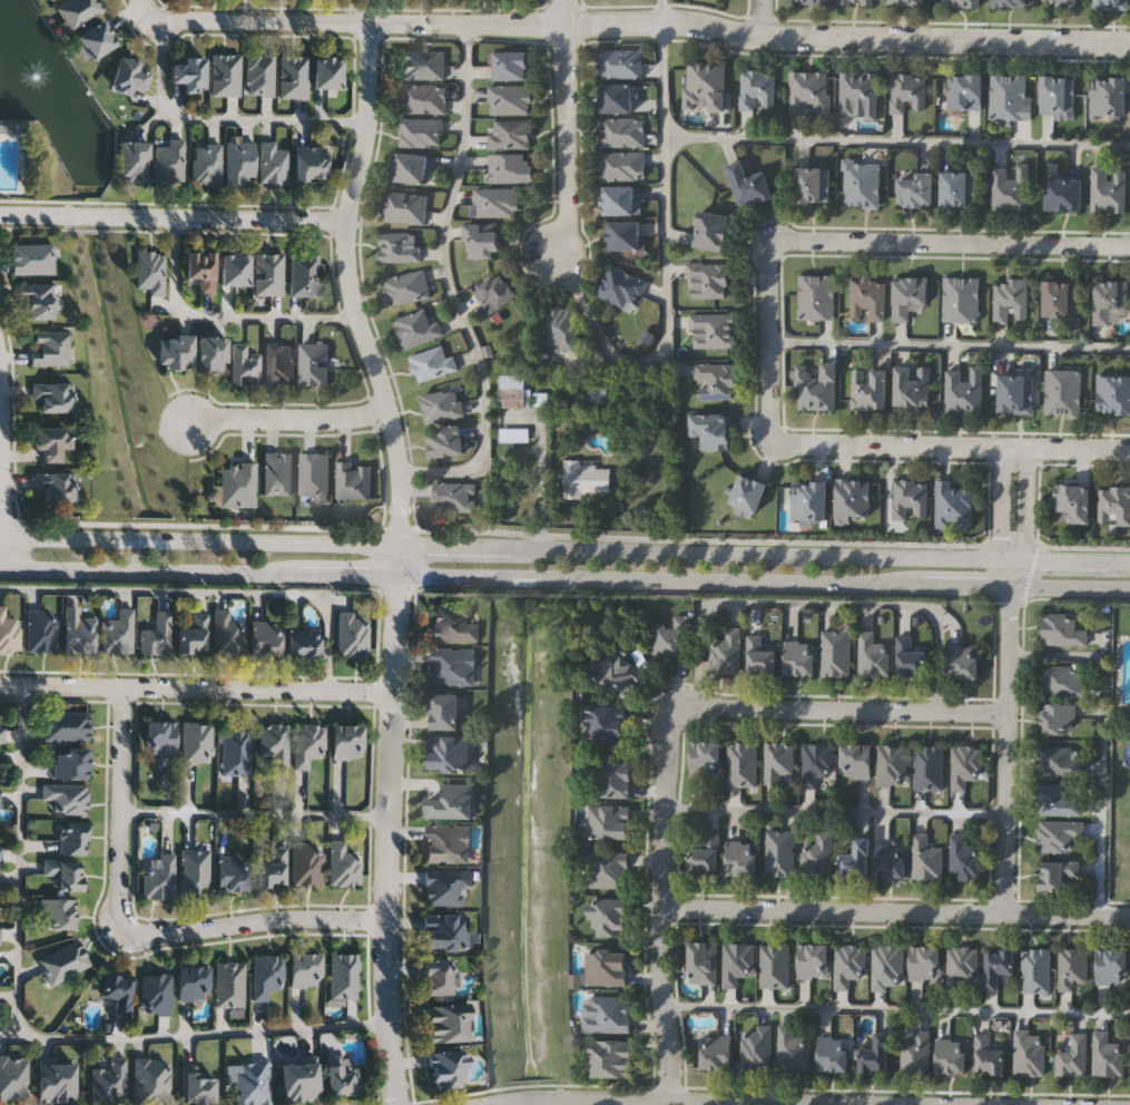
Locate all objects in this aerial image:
building: (52, 0)
building: (810, 2)
building: (857, 2)
building: (907, 2)
building: (962, 3)
building: (1010, 3)
building: (1060, 3)
building: (1113, 4)
road: (660, 10)
building: (78, 11)
road: (148, 12)
road: (763, 18)
road: (646, 21)
building: (97, 40)
building: (422, 66)
building: (621, 66)
building: (512, 67)
building: (327, 74)
building: (190, 75)
building: (225, 76)
building: (259, 76)
building: (128, 77)
building: (293, 77)
building: (707, 87)
building: (758, 91)
building: (810, 94)
building: (907, 94)
building: (965, 94)
building: (858, 96)
building: (1058, 96)
building: (1011, 98)
building: (1110, 98)
building: (616, 99)
building: (423, 100)
building: (509, 101)
road: (220, 117)
road: (564, 126)
building: (420, 134)
building: (623, 134)
building: (509, 136)
road: (896, 143)
building: (134, 163)
building: (169, 163)
building: (240, 163)
building: (272, 164)
building: (206, 165)
building: (311, 165)
building: (623, 167)
building: (411, 169)
building: (511, 169)
building: (861, 185)
building: (750, 186)
building: (813, 186)
building: (1011, 189)
building: (960, 190)
building: (1109, 190)
building: (917, 192)
building: (1064, 197)
building: (622, 202)
building: (495, 203)
building: (404, 208)
road: (41, 214)
road: (94, 215)
road: (225, 217)
building: (714, 232)
building: (626, 237)
road: (949, 241)
building: (482, 243)
building: (397, 248)
building: (31, 260)
building: (202, 270)
building: (235, 270)
building: (150, 272)
road: (667, 273)
building: (268, 274)
building: (304, 275)
building: (709, 282)
road: (450, 284)
road: (348, 285)
building: (404, 289)
building: (622, 290)
building: (494, 295)
building: (910, 297)
building: (817, 299)
building: (868, 299)
building: (37, 300)
building: (1062, 300)
building: (962, 301)
building: (1011, 302)
building: (1112, 304)
road: (223, 312)
building: (559, 327)
building: (415, 330)
building: (714, 332)
road: (770, 341)
road: (950, 344)
building: (50, 349)
building: (176, 353)
building: (213, 354)
building: (246, 358)
building: (278, 364)
building: (431, 364)
building: (313, 365)
building: (717, 383)
building: (818, 388)
building: (871, 390)
building: (914, 390)
building: (514, 391)
building: (964, 391)
building: (1063, 393)
building: (1016, 395)
building: (1113, 395)
building: (53, 397)
building: (440, 405)
road: (0, 409)
road: (284, 413)
building: (713, 431)
building: (514, 434)
building: (52, 442)
building: (445, 442)
road: (951, 447)
building: (277, 475)
building: (314, 475)
building: (586, 478)
road: (1, 479)
building: (353, 482)
building: (237, 485)
building: (55, 487)
building: (749, 497)
building: (453, 498)
building: (911, 500)
building: (854, 501)
building: (810, 502)
building: (1073, 505)
building: (1114, 505)
building: (953, 507)
road: (994, 516)
road: (1023, 517)
road: (564, 537)
road: (564, 549)
road: (393, 560)
road: (1, 566)
road: (150, 570)
road: (346, 575)
road: (658, 578)
road: (965, 581)
road: (1069, 584)
road: (208, 591)
road: (819, 603)
building: (454, 623)
building: (41, 628)
building: (1061, 629)
building: (9, 630)
building: (119, 630)
building: (79, 633)
building: (157, 634)
building: (194, 634)
building: (227, 634)
building: (352, 634)
building: (266, 638)
building: (671, 639)
building: (305, 642)
building: (725, 652)
building: (835, 652)
building: (871, 654)
building: (760, 655)
building: (799, 657)
building: (910, 657)
building: (963, 661)
building: (453, 666)
building: (617, 672)
building: (1061, 679)
road: (196, 687)
building: (445, 711)
road: (842, 711)
building: (1058, 718)
building: (606, 721)
building: (66, 724)
building: (1, 734)
building: (161, 737)
building: (348, 740)
road: (1102, 741)
building: (198, 742)
building: (274, 743)
building: (308, 743)
road: (1006, 747)
building: (237, 751)
building: (449, 753)
building: (706, 760)
building: (856, 760)
building: (1058, 761)
building: (71, 762)
building: (777, 762)
building: (816, 763)
building: (741, 764)
building: (892, 765)
building: (963, 765)
building: (927, 767)
building: (618, 779)
building: (66, 795)
building: (0, 798)
building: (453, 801)
building: (1055, 801)
road: (834, 811)
road: (256, 812)
building: (608, 821)
building: (1058, 834)
building: (72, 835)
road: (389, 840)
building: (448, 842)
building: (0, 845)
building: (780, 853)
building: (705, 854)
building: (817, 855)
building: (741, 858)
building: (925, 858)
building: (964, 858)
building: (857, 859)
road: (21, 860)
building: (891, 860)
building: (306, 863)
building: (344, 863)
building: (273, 868)
building: (607, 869)
building: (195, 870)
building: (66, 871)
building: (233, 871)
building: (1058, 873)
building: (159, 877)
building: (445, 884)
road: (660, 908)
building: (58, 911)
road: (895, 912)
building: (611, 917)
road: (135, 930)
building: (448, 931)
building: (63, 960)
building: (813, 960)
building: (925, 961)
building: (704, 962)
building: (737, 962)
building: (848, 964)
building: (774, 965)
building: (607, 966)
building: (887, 966)
building: (961, 966)
building: (999, 966)
building: (1071, 966)
building: (1112, 966)
building: (306, 968)
building: (1034, 968)
building: (267, 974)
building: (344, 975)
building: (439, 975)
building: (194, 981)
building: (229, 982)
building: (119, 991)
building: (156, 992)
road: (896, 1010)
building: (607, 1015)
building: (448, 1021)
road: (203, 1033)
road: (9, 1035)
building: (756, 1047)
building: (790, 1048)
building: (717, 1052)
building: (875, 1052)
building: (915, 1052)
building: (1030, 1052)
building: (833, 1053)
building: (990, 1053)
building: (1106, 1054)
building: (951, 1055)
building: (1072, 1055)
building: (612, 1057)
building: (449, 1067)
building: (13, 1076)
building: (57, 1078)
building: (343, 1078)
building: (108, 1079)
building: (150, 1079)
building: (253, 1080)
building: (301, 1080)
building: (197, 1084)
road: (647, 1102)

